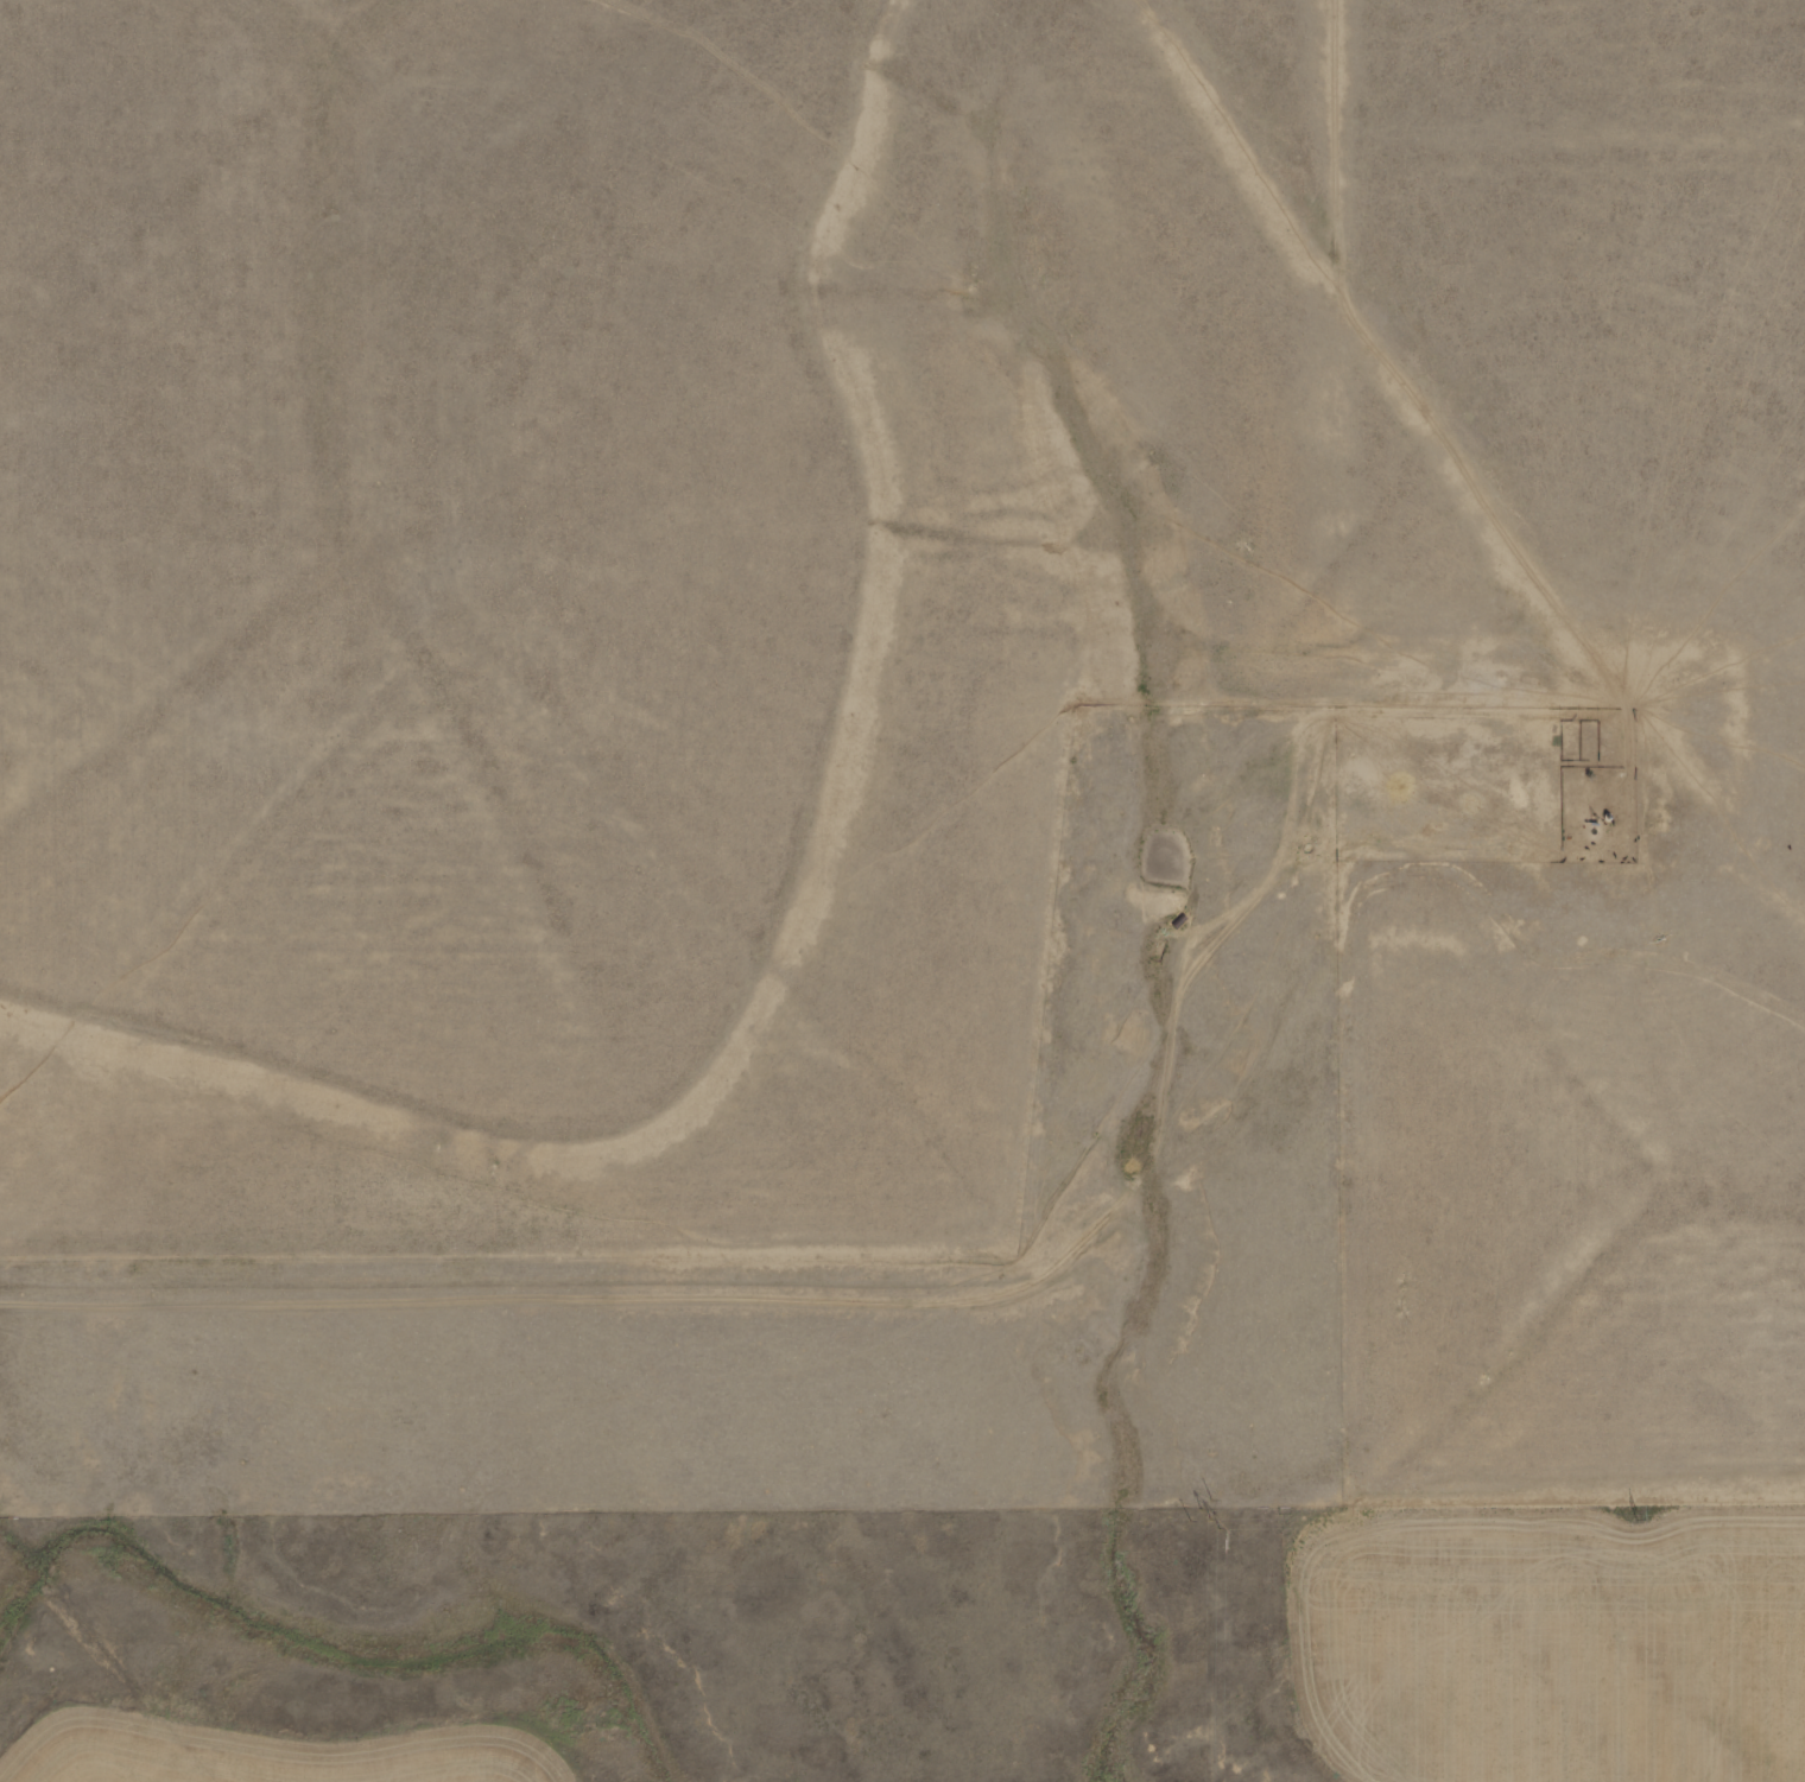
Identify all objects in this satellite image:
road: (1317, 348)

